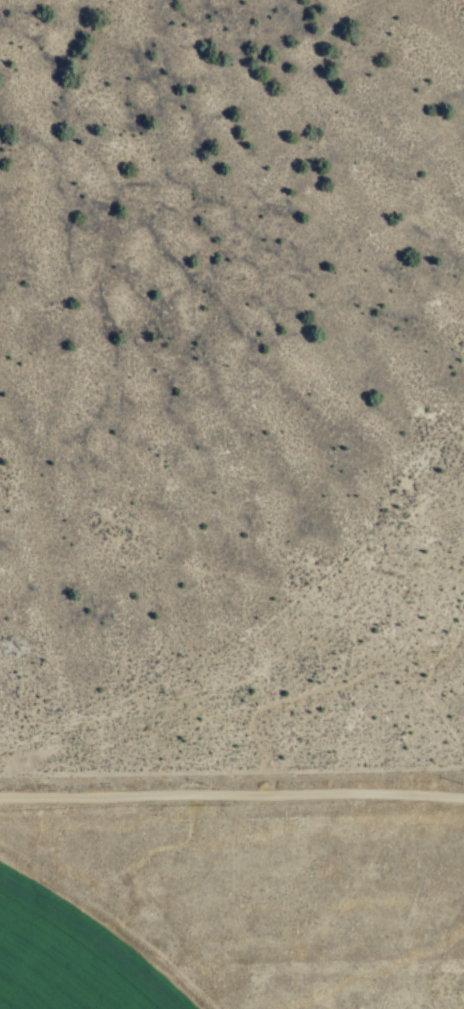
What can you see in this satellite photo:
road: (231, 795)

